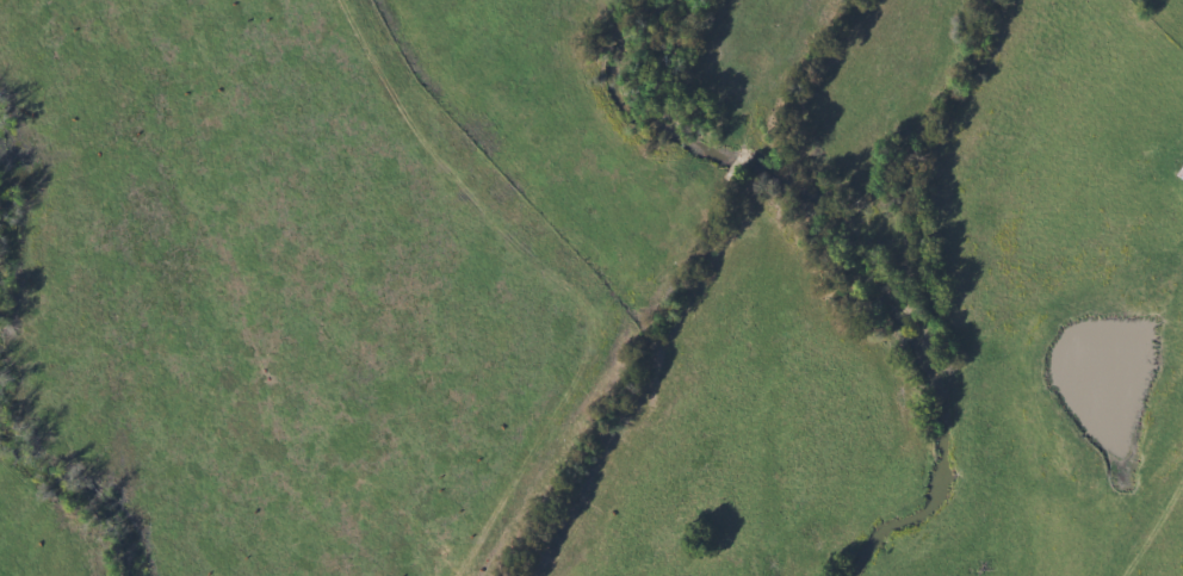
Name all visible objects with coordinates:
building: (1179, 173)

